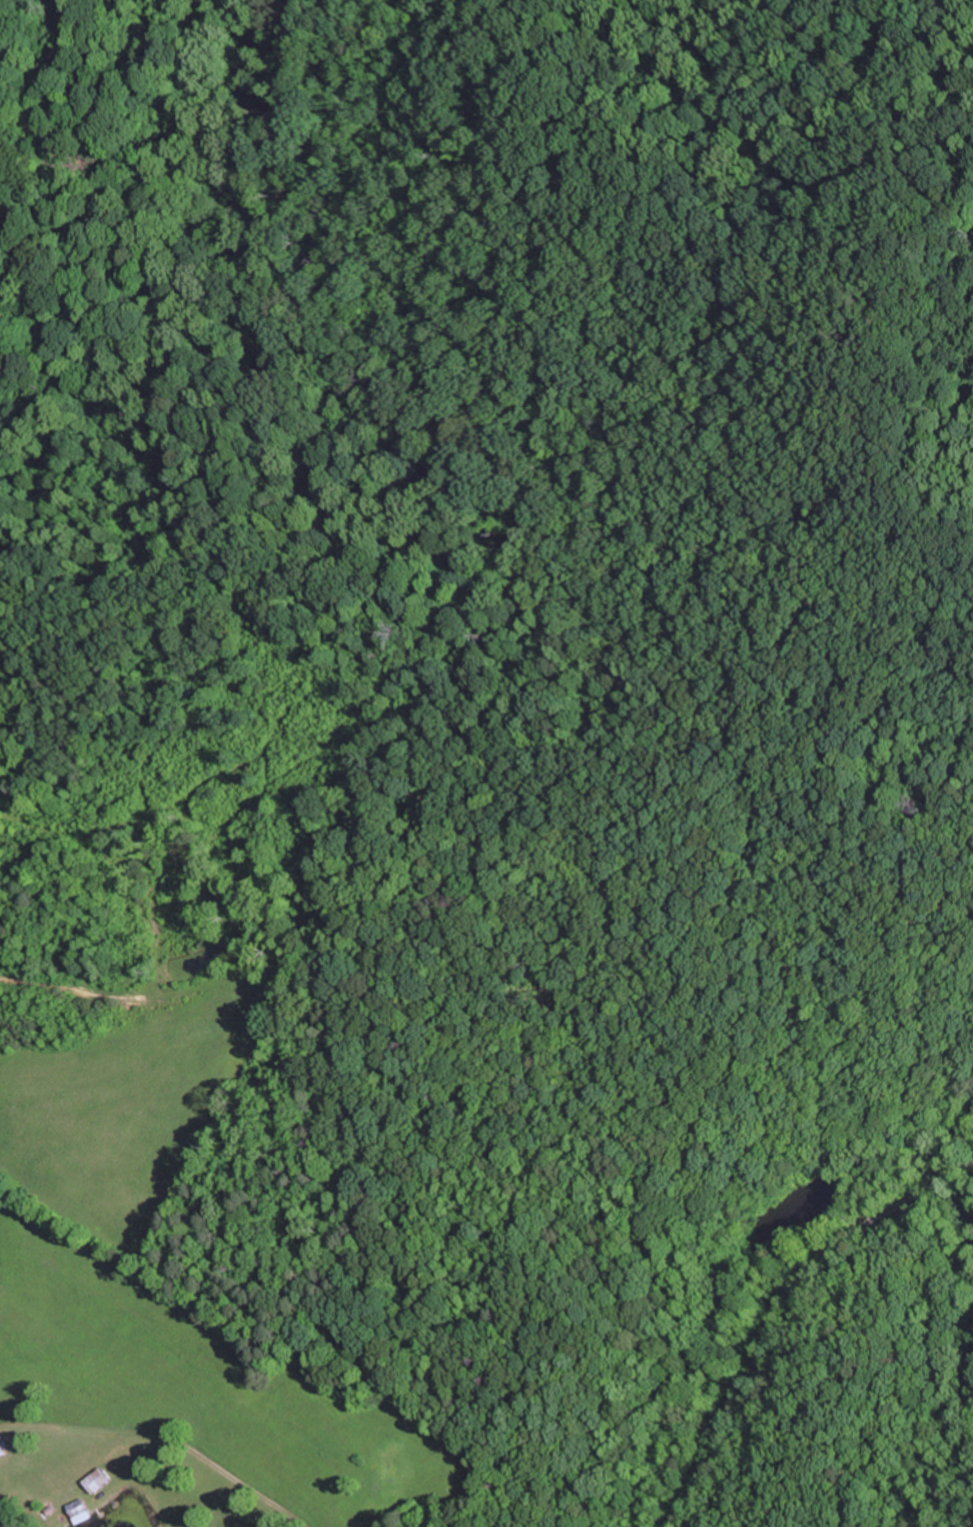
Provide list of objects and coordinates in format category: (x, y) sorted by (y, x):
building: (77, 1511)

